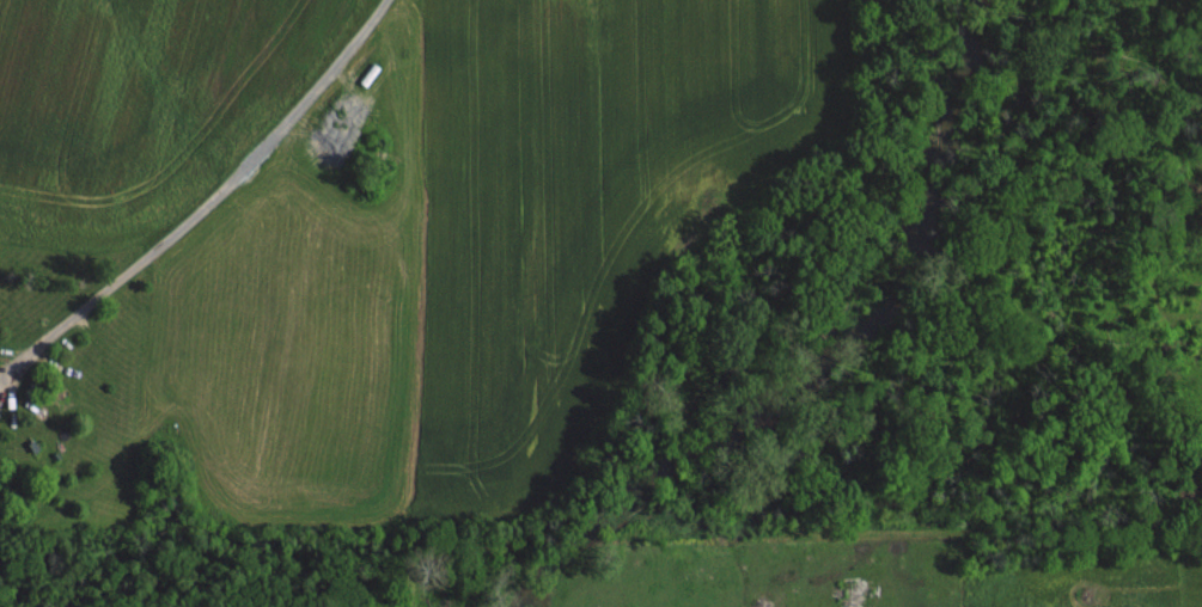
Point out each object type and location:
road: (214, 195)

